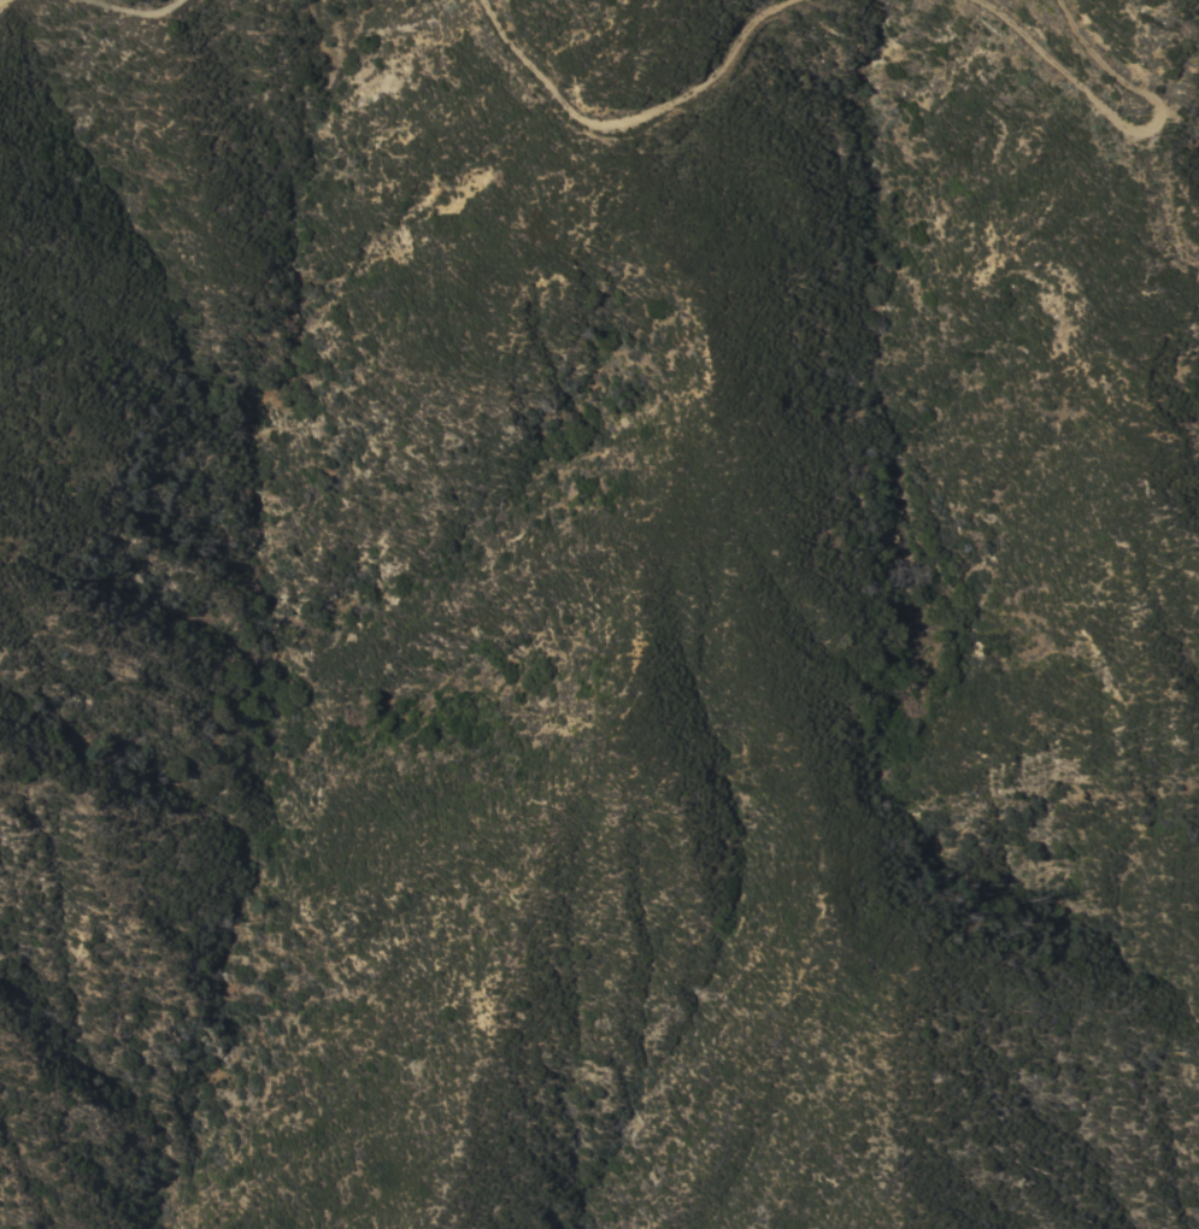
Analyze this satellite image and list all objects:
road: (130, 14)
road: (624, 127)
road: (1122, 127)

